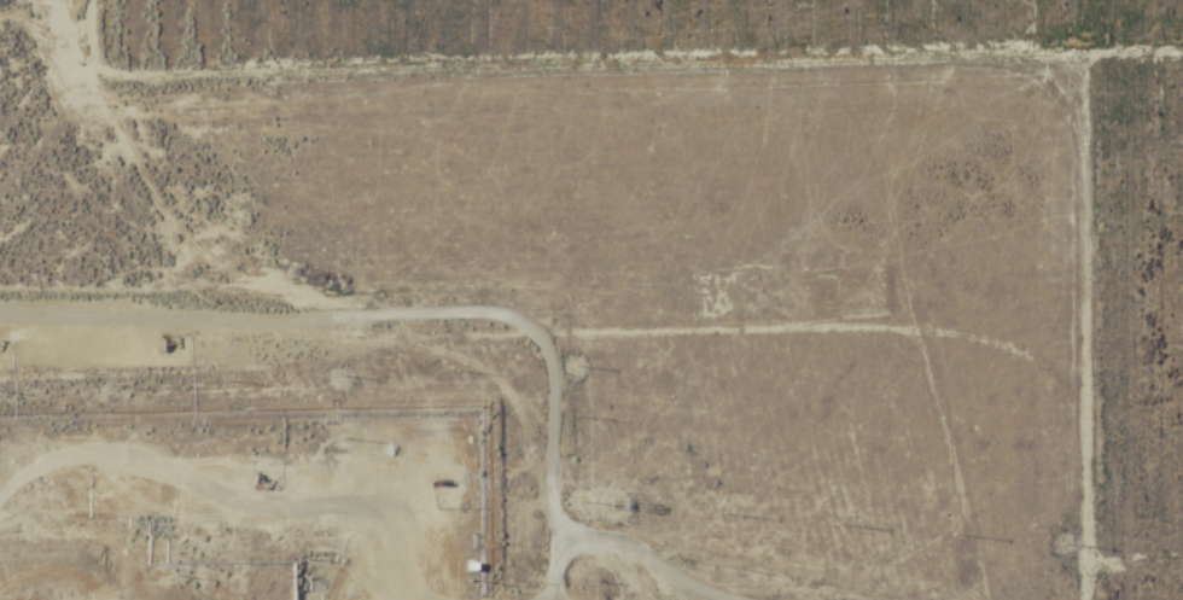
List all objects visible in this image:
road: (267, 299)

